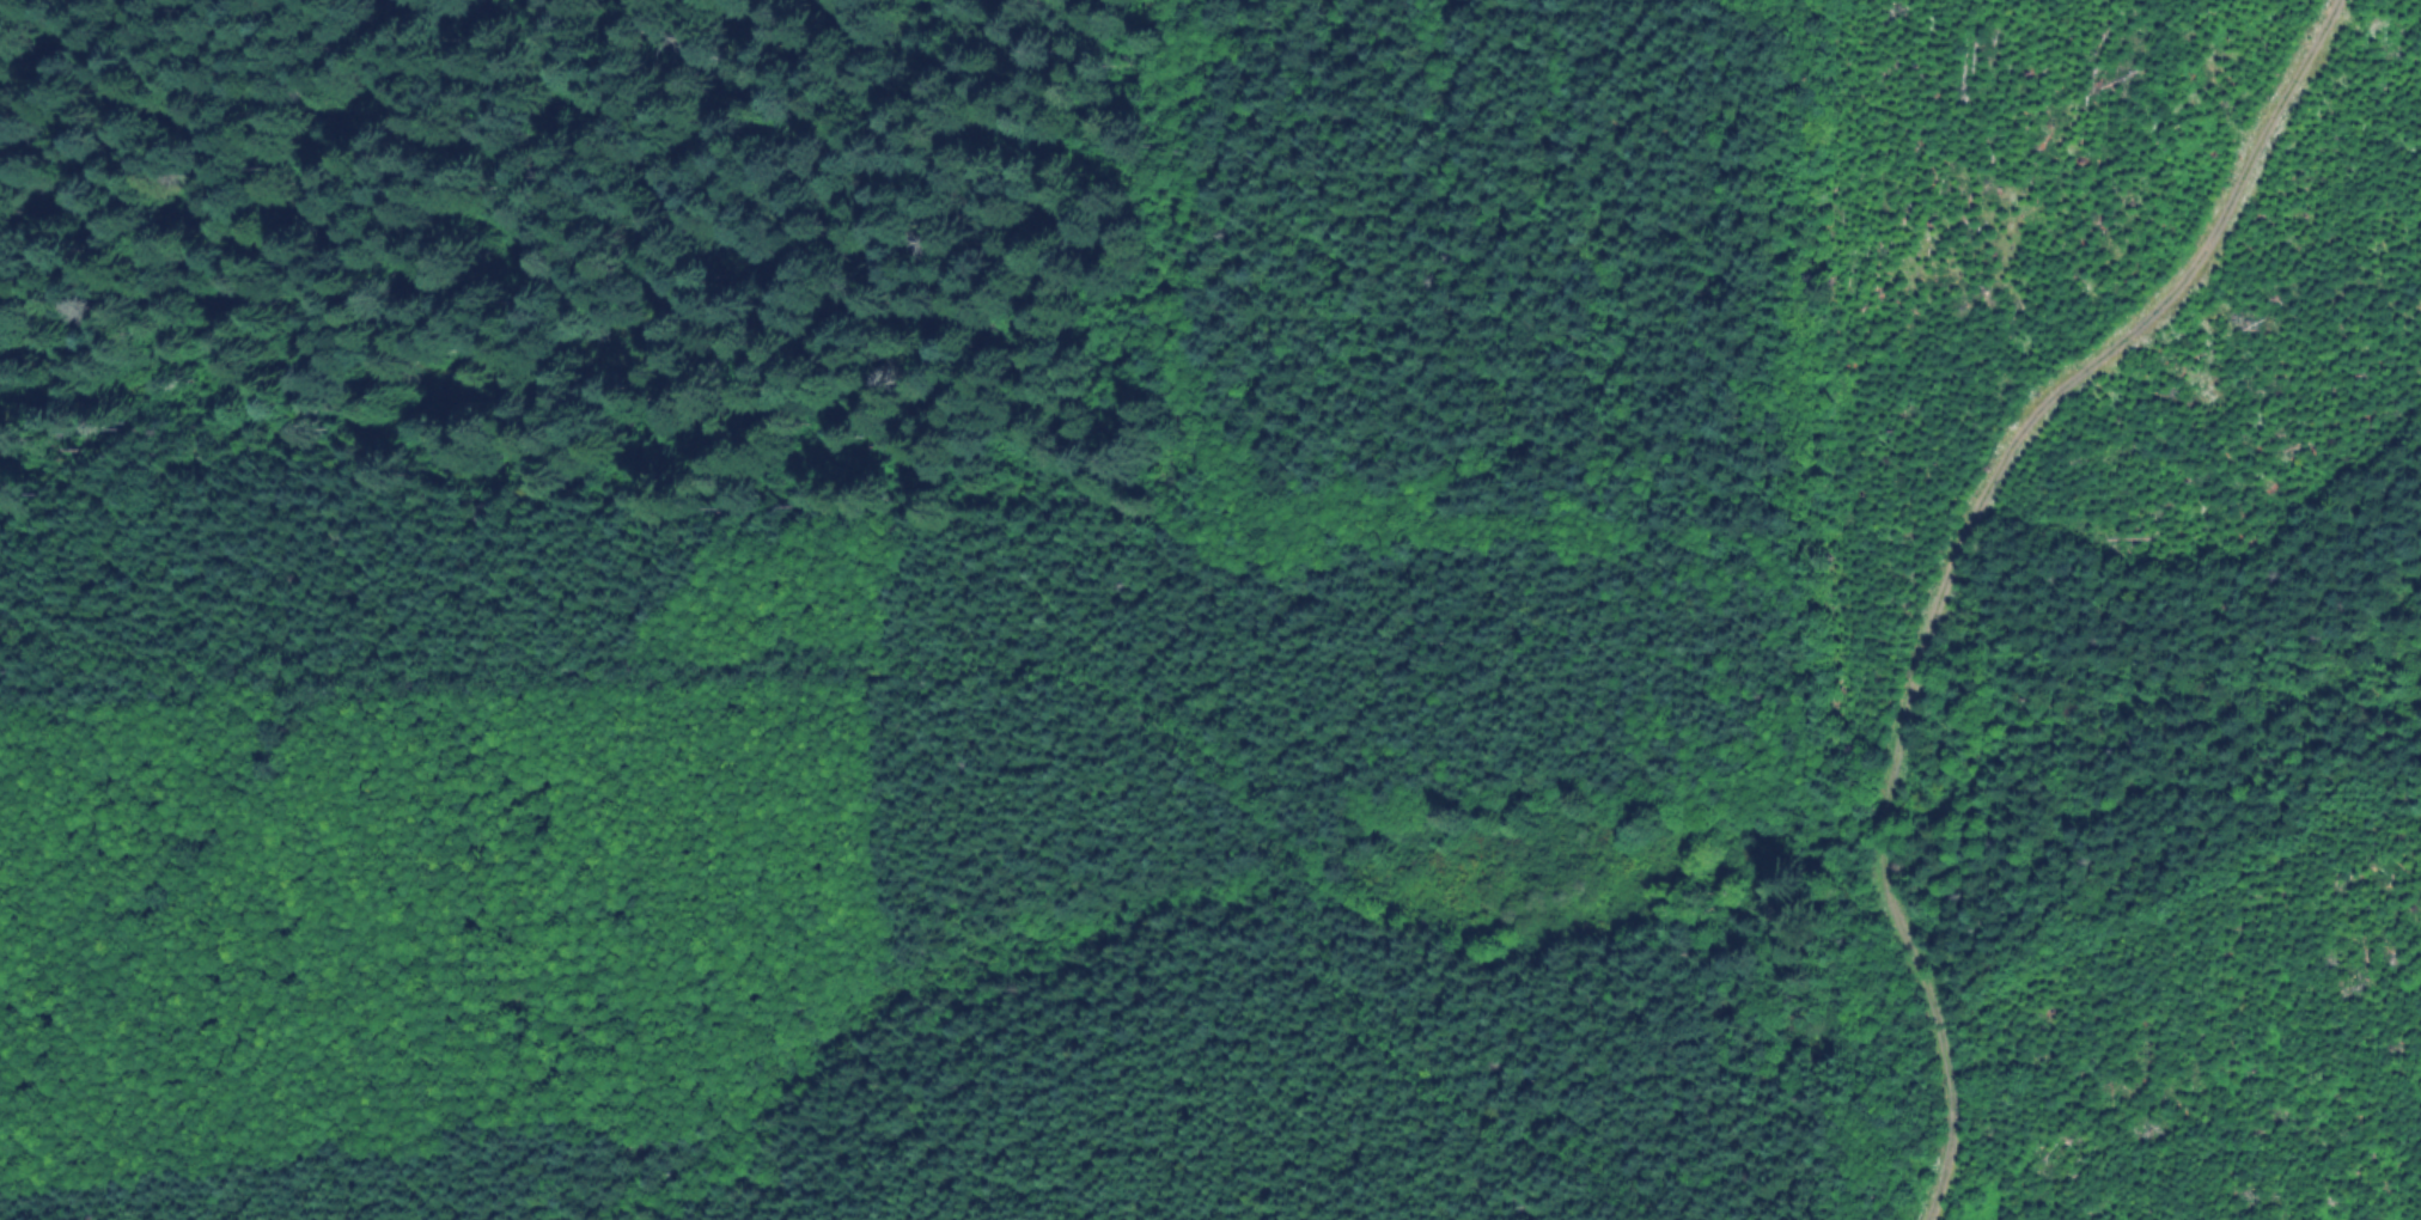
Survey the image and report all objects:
road: (1962, 561)

